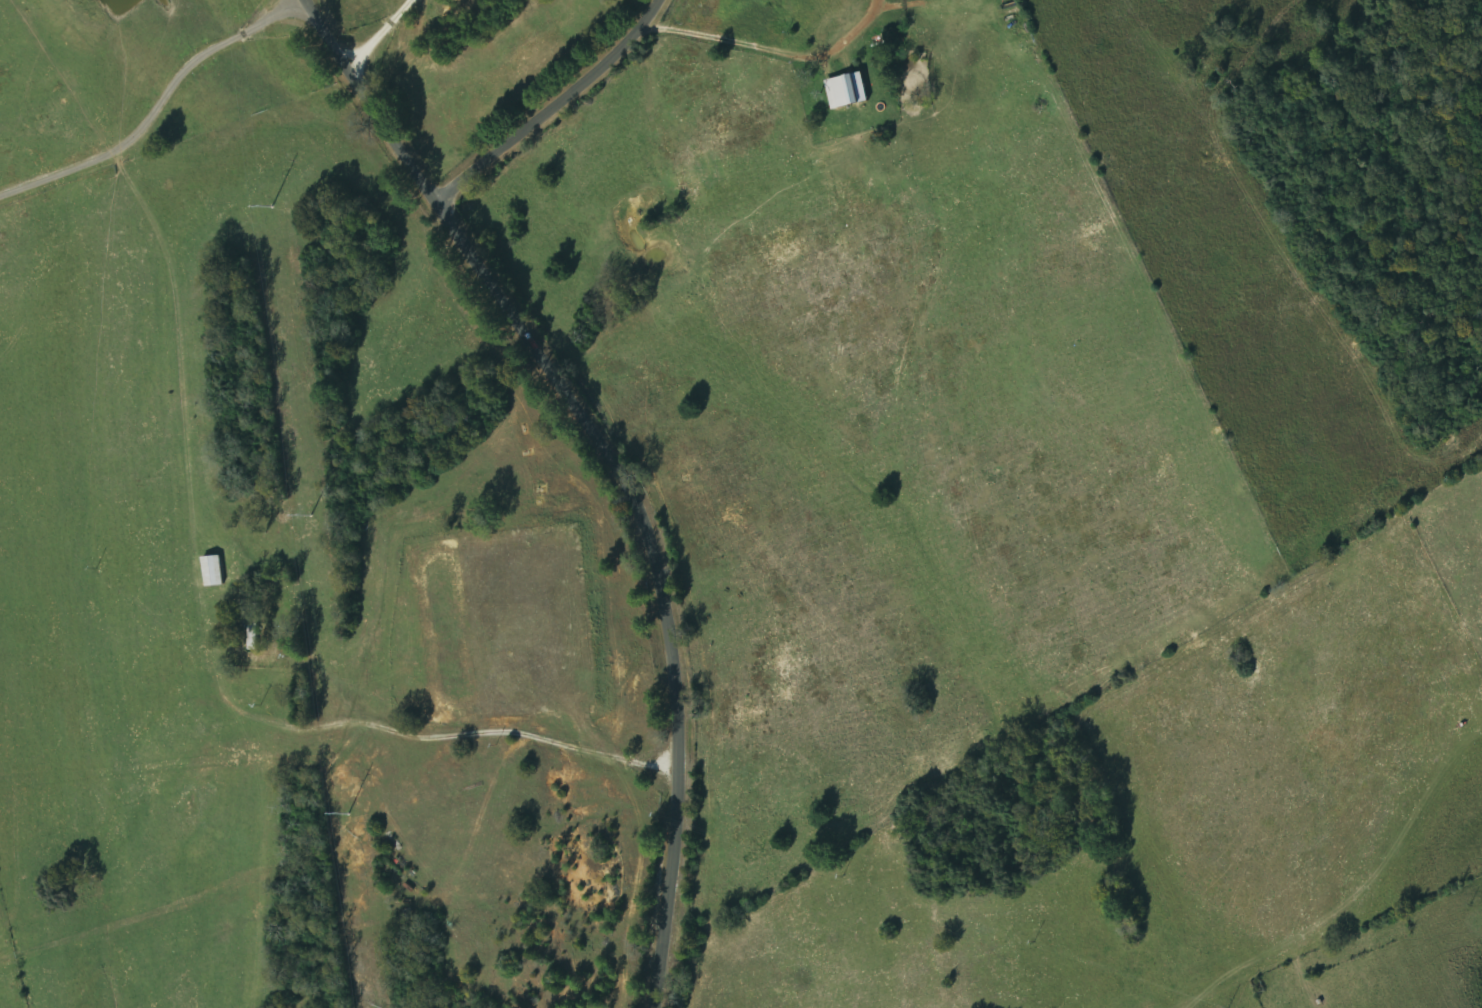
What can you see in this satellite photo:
building: (848, 91)
road: (548, 104)
road: (156, 106)
power tower: (270, 205)
road: (611, 465)
power tower: (309, 514)
building: (214, 570)
road: (545, 603)
power tower: (347, 812)
road: (1358, 895)

